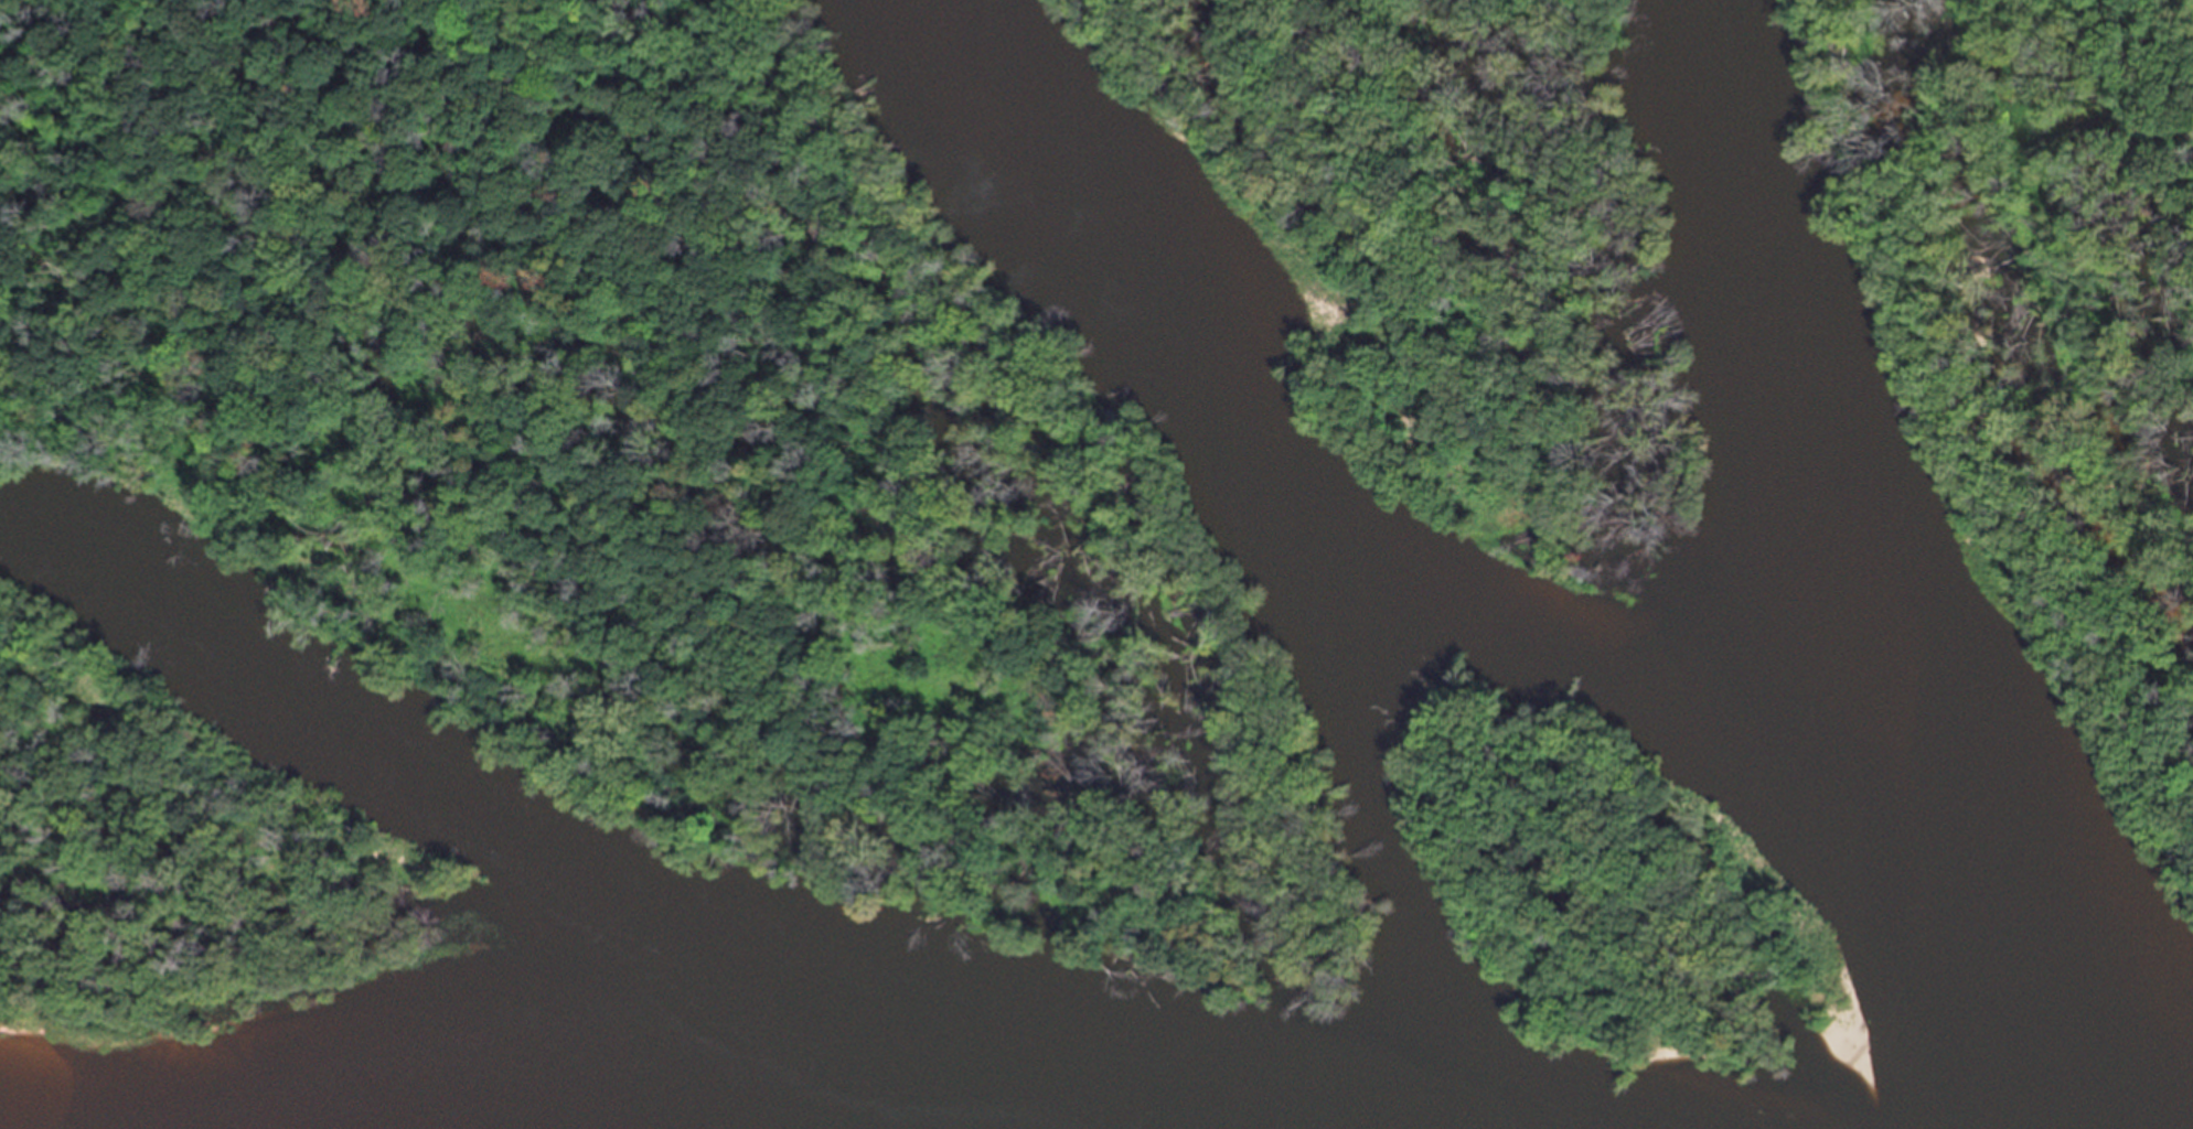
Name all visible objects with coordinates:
park: (2178, 13)

